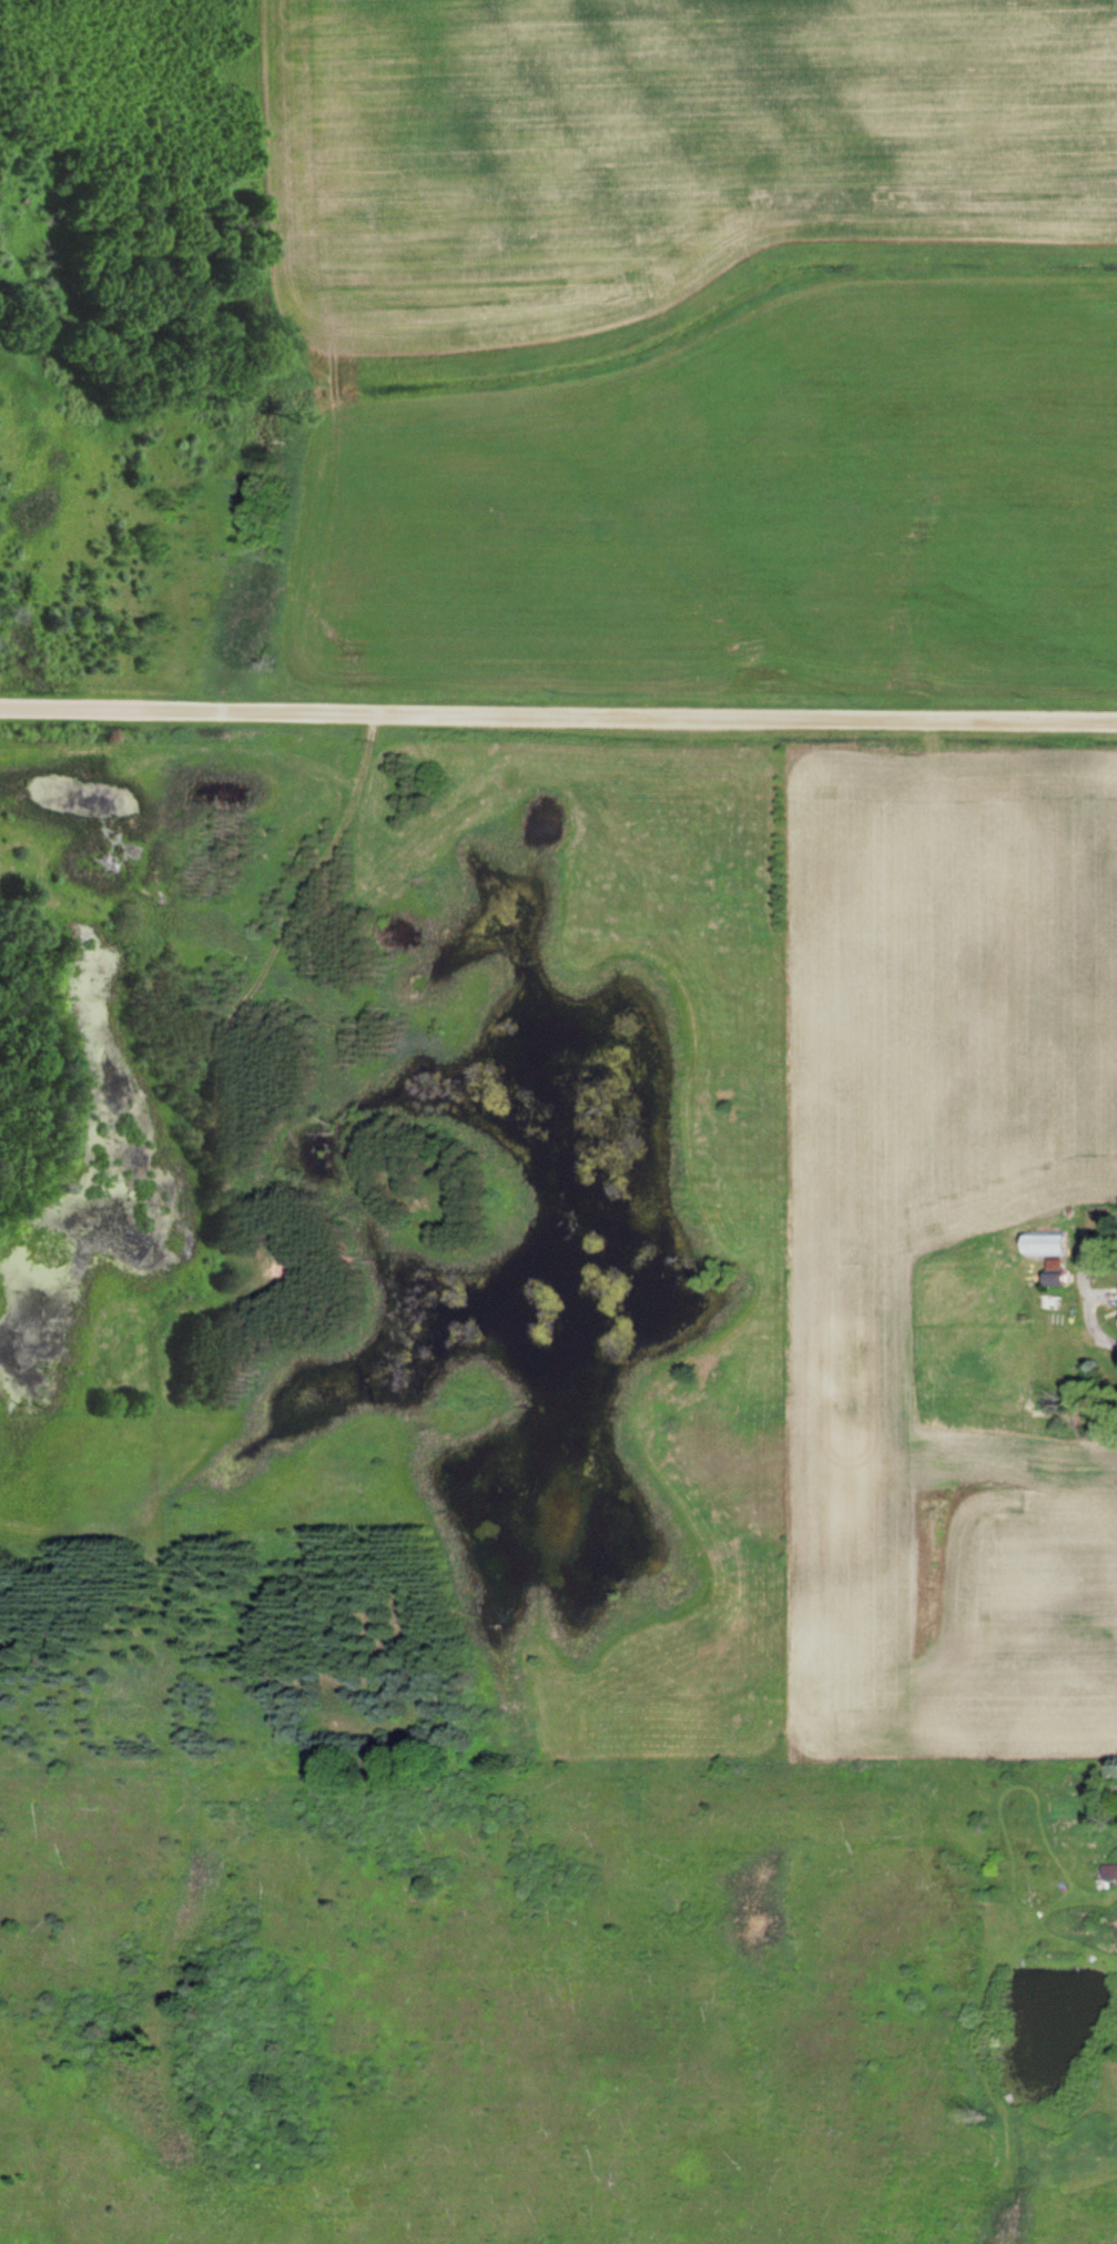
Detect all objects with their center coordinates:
road: (558, 711)
building: (1042, 1243)

